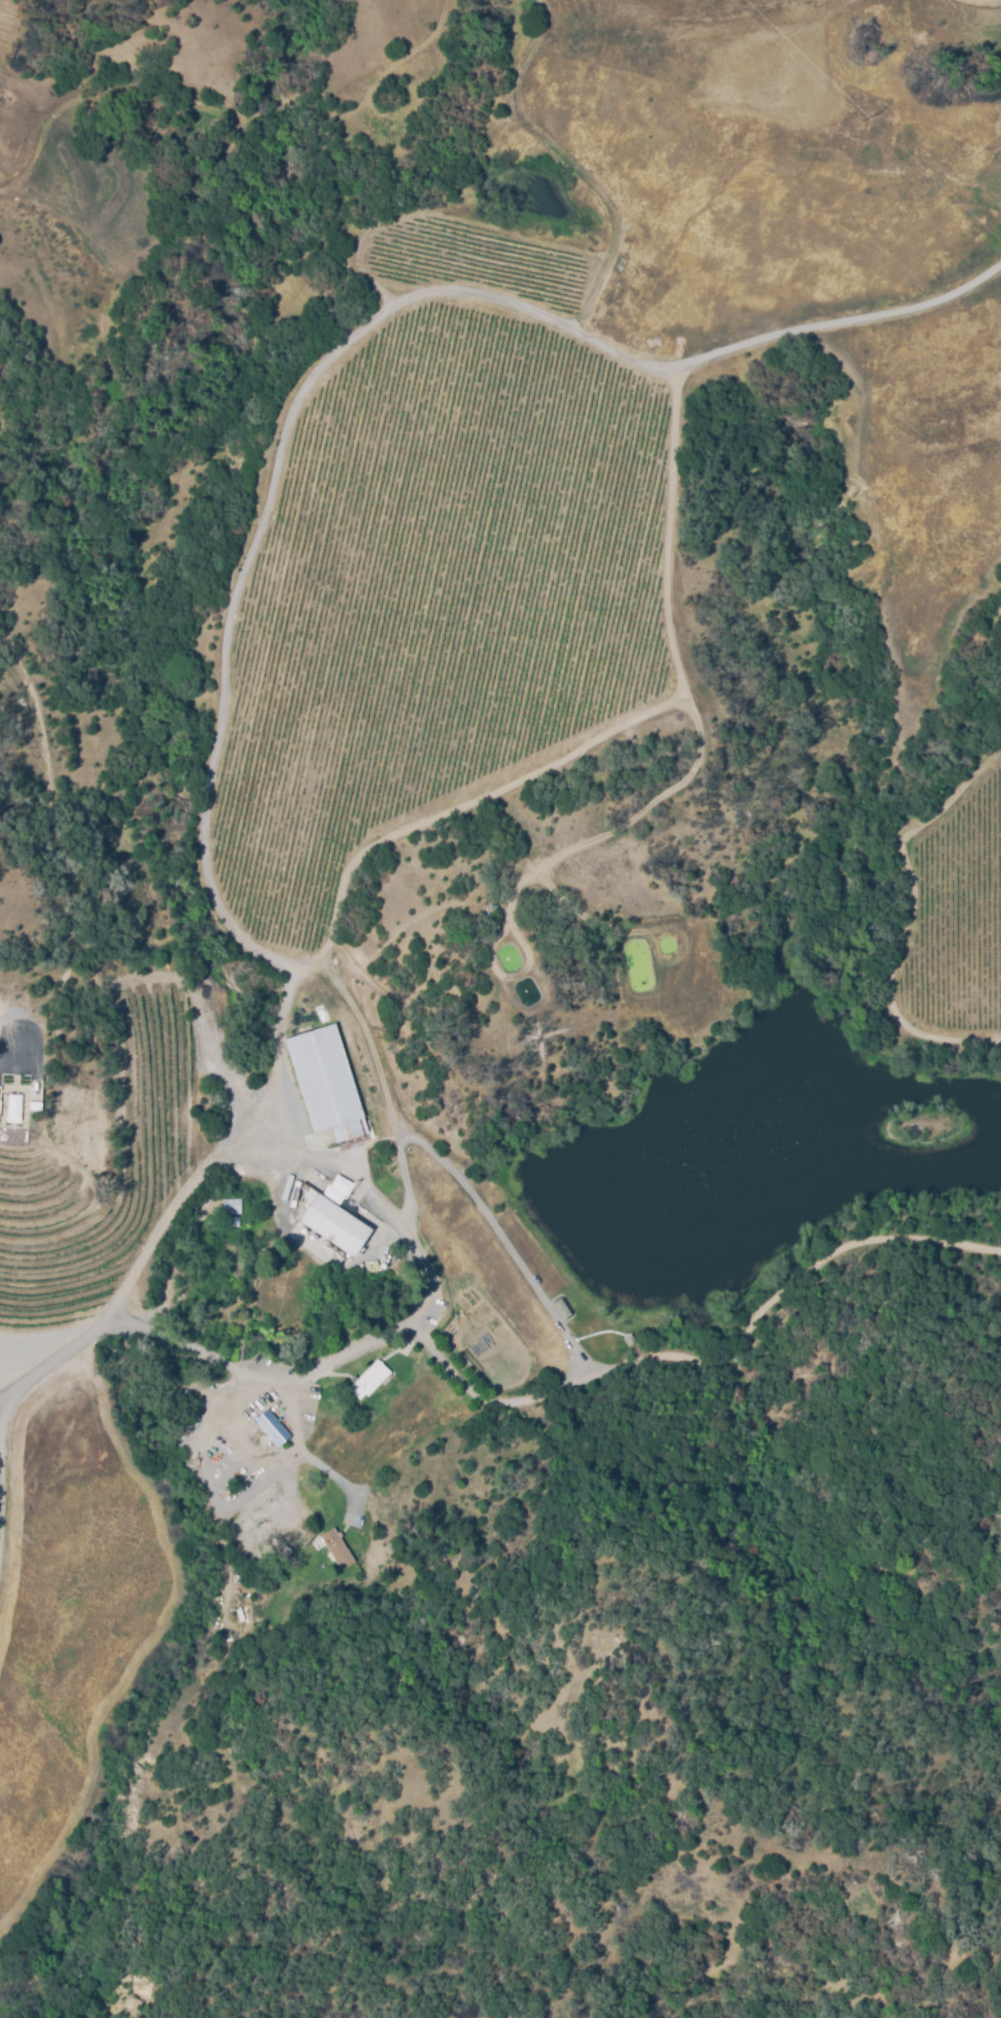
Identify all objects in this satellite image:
road: (4, 1068)
building: (326, 1082)
building: (1, 1102)
building: (320, 1137)
road: (232, 1152)
building: (343, 1181)
building: (332, 1191)
building: (232, 1204)
building: (232, 1220)
building: (336, 1224)
road: (396, 1328)
road: (52, 1359)
building: (371, 1377)
building: (315, 1423)
building: (273, 1426)
road: (236, 1442)
road: (303, 1454)
building: (277, 1518)
building: (337, 1547)

